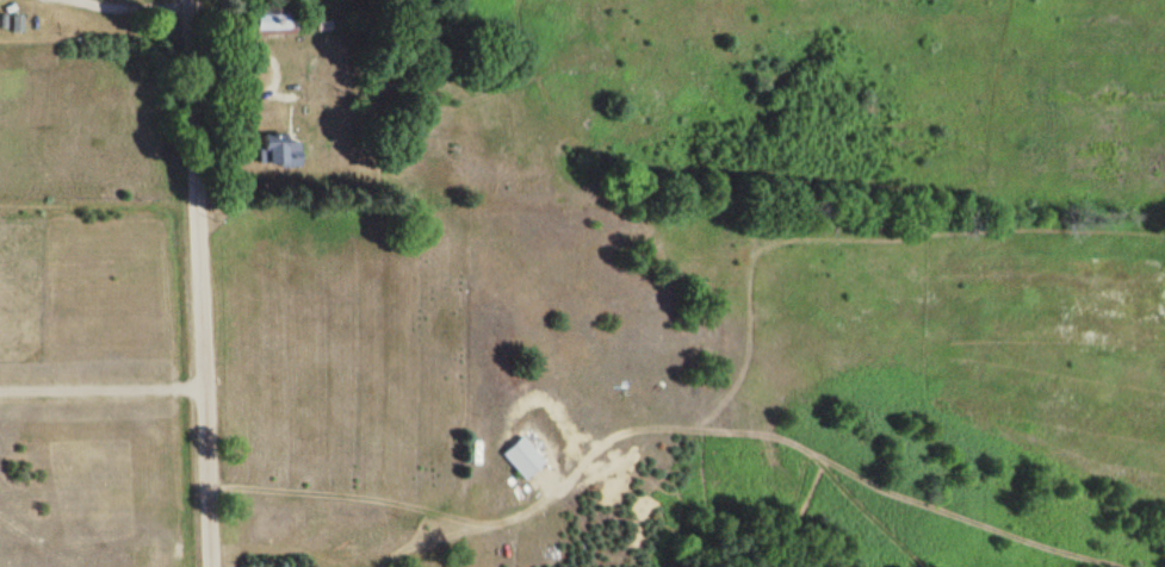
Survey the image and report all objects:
building: (285, 23)
building: (287, 154)
road: (202, 283)
building: (527, 457)

